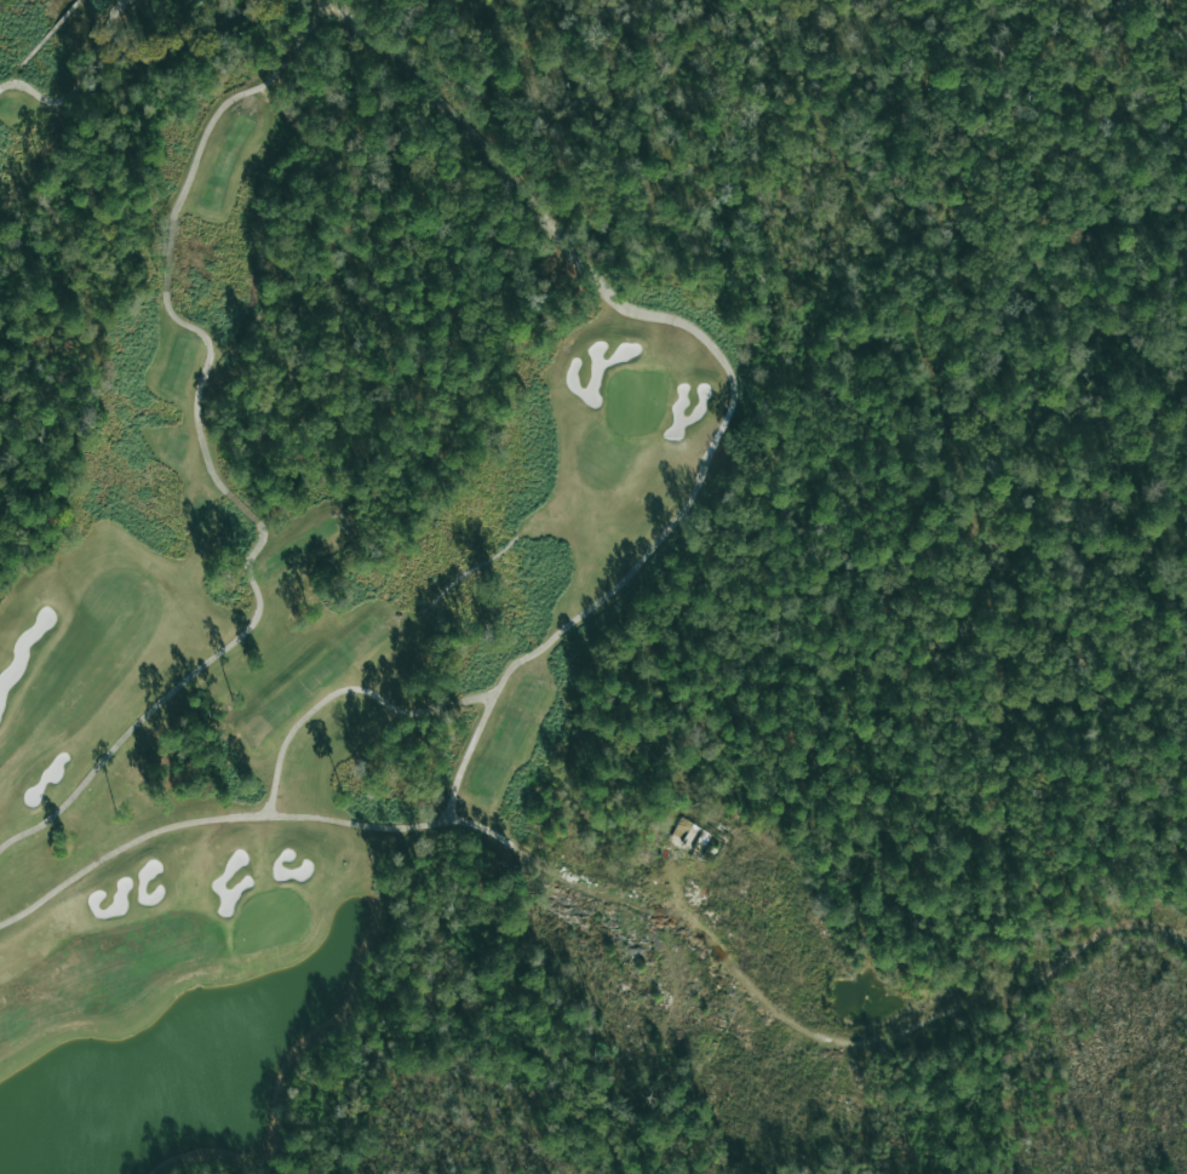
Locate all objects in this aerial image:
road: (76, 79)
road: (203, 460)
park: (299, 511)
park: (299, 511)
road: (630, 574)
road: (344, 697)
road: (803, 1031)

